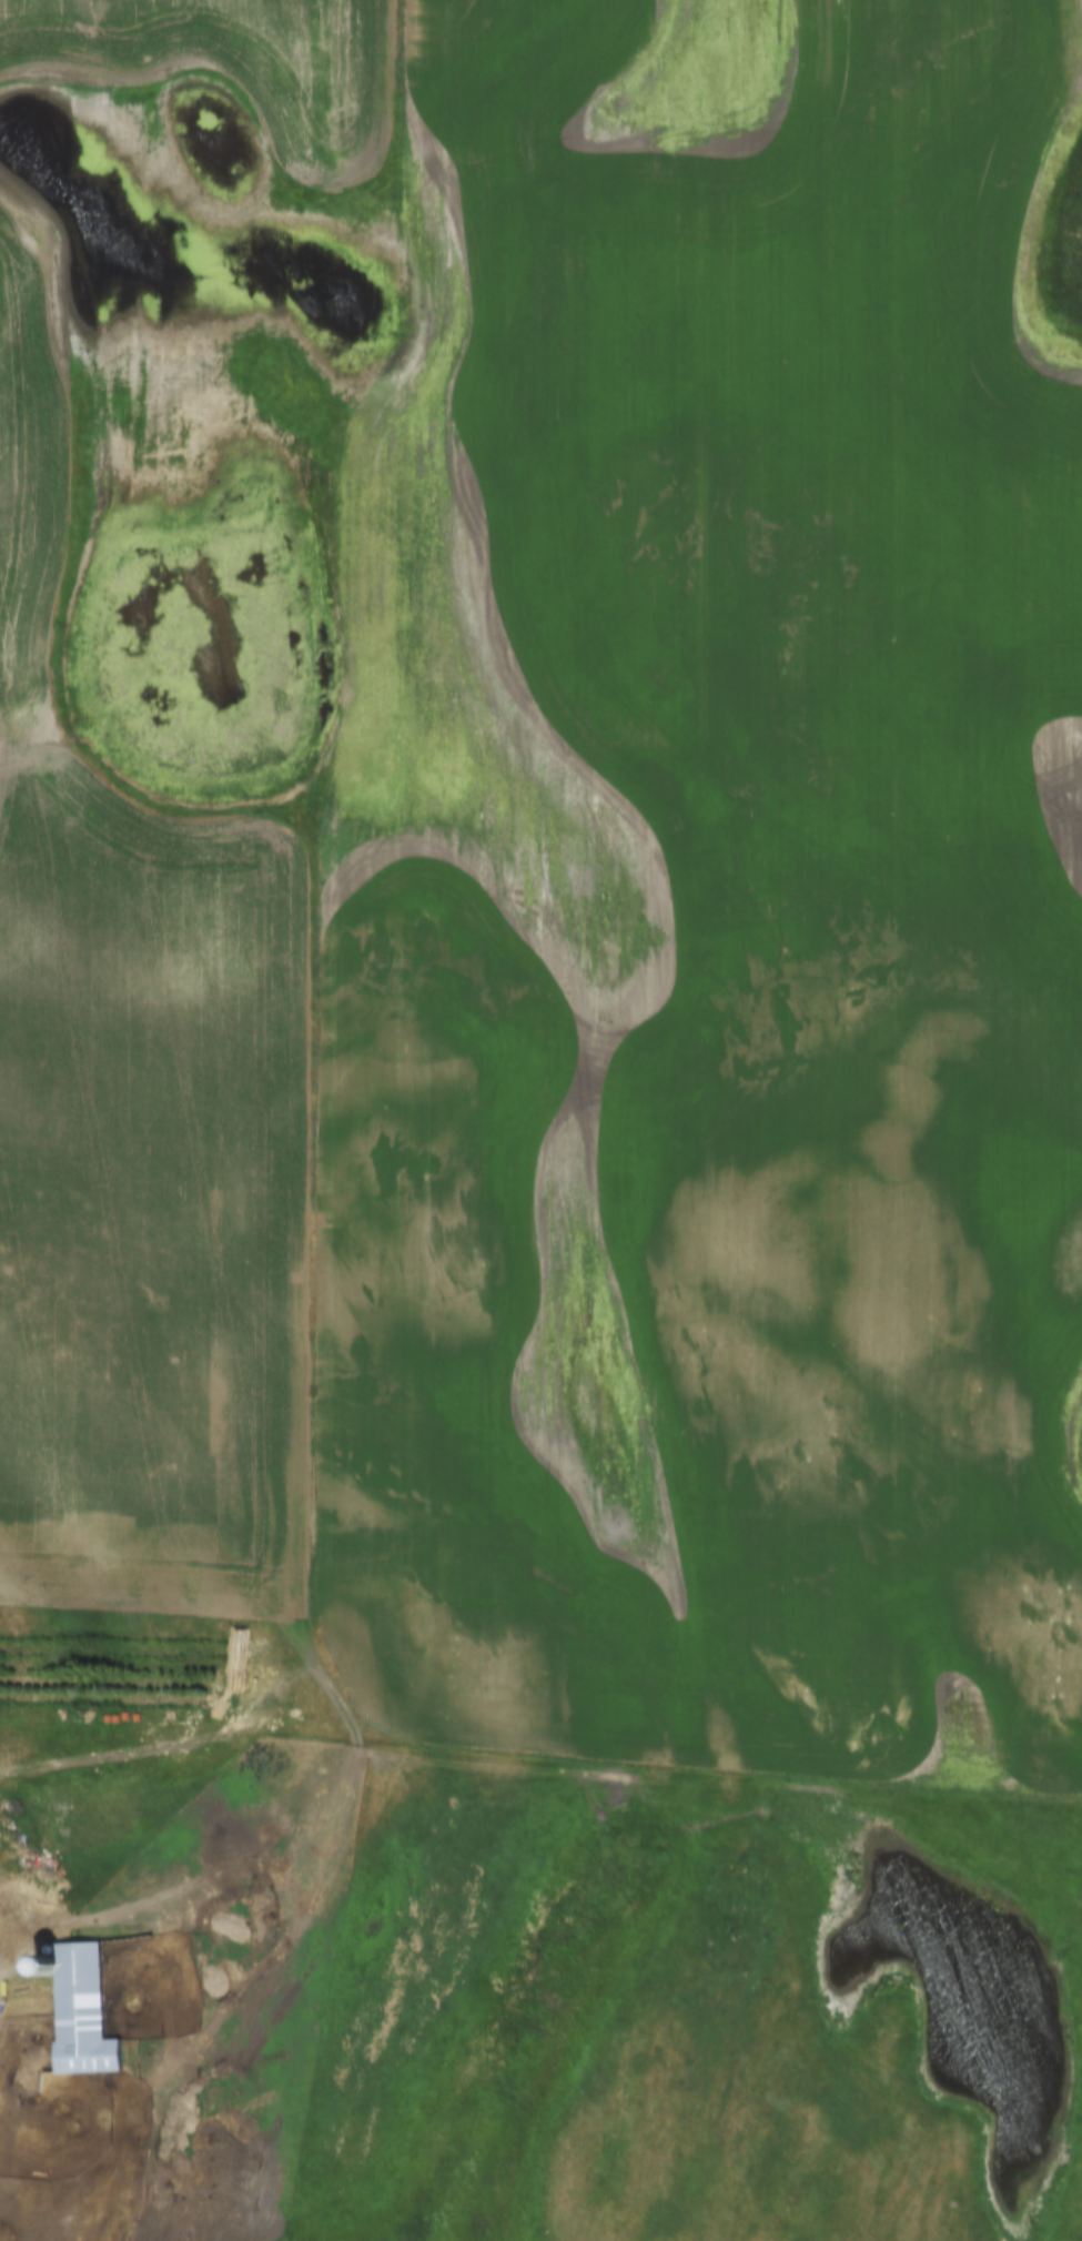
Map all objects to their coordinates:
building: (80, 2010)

